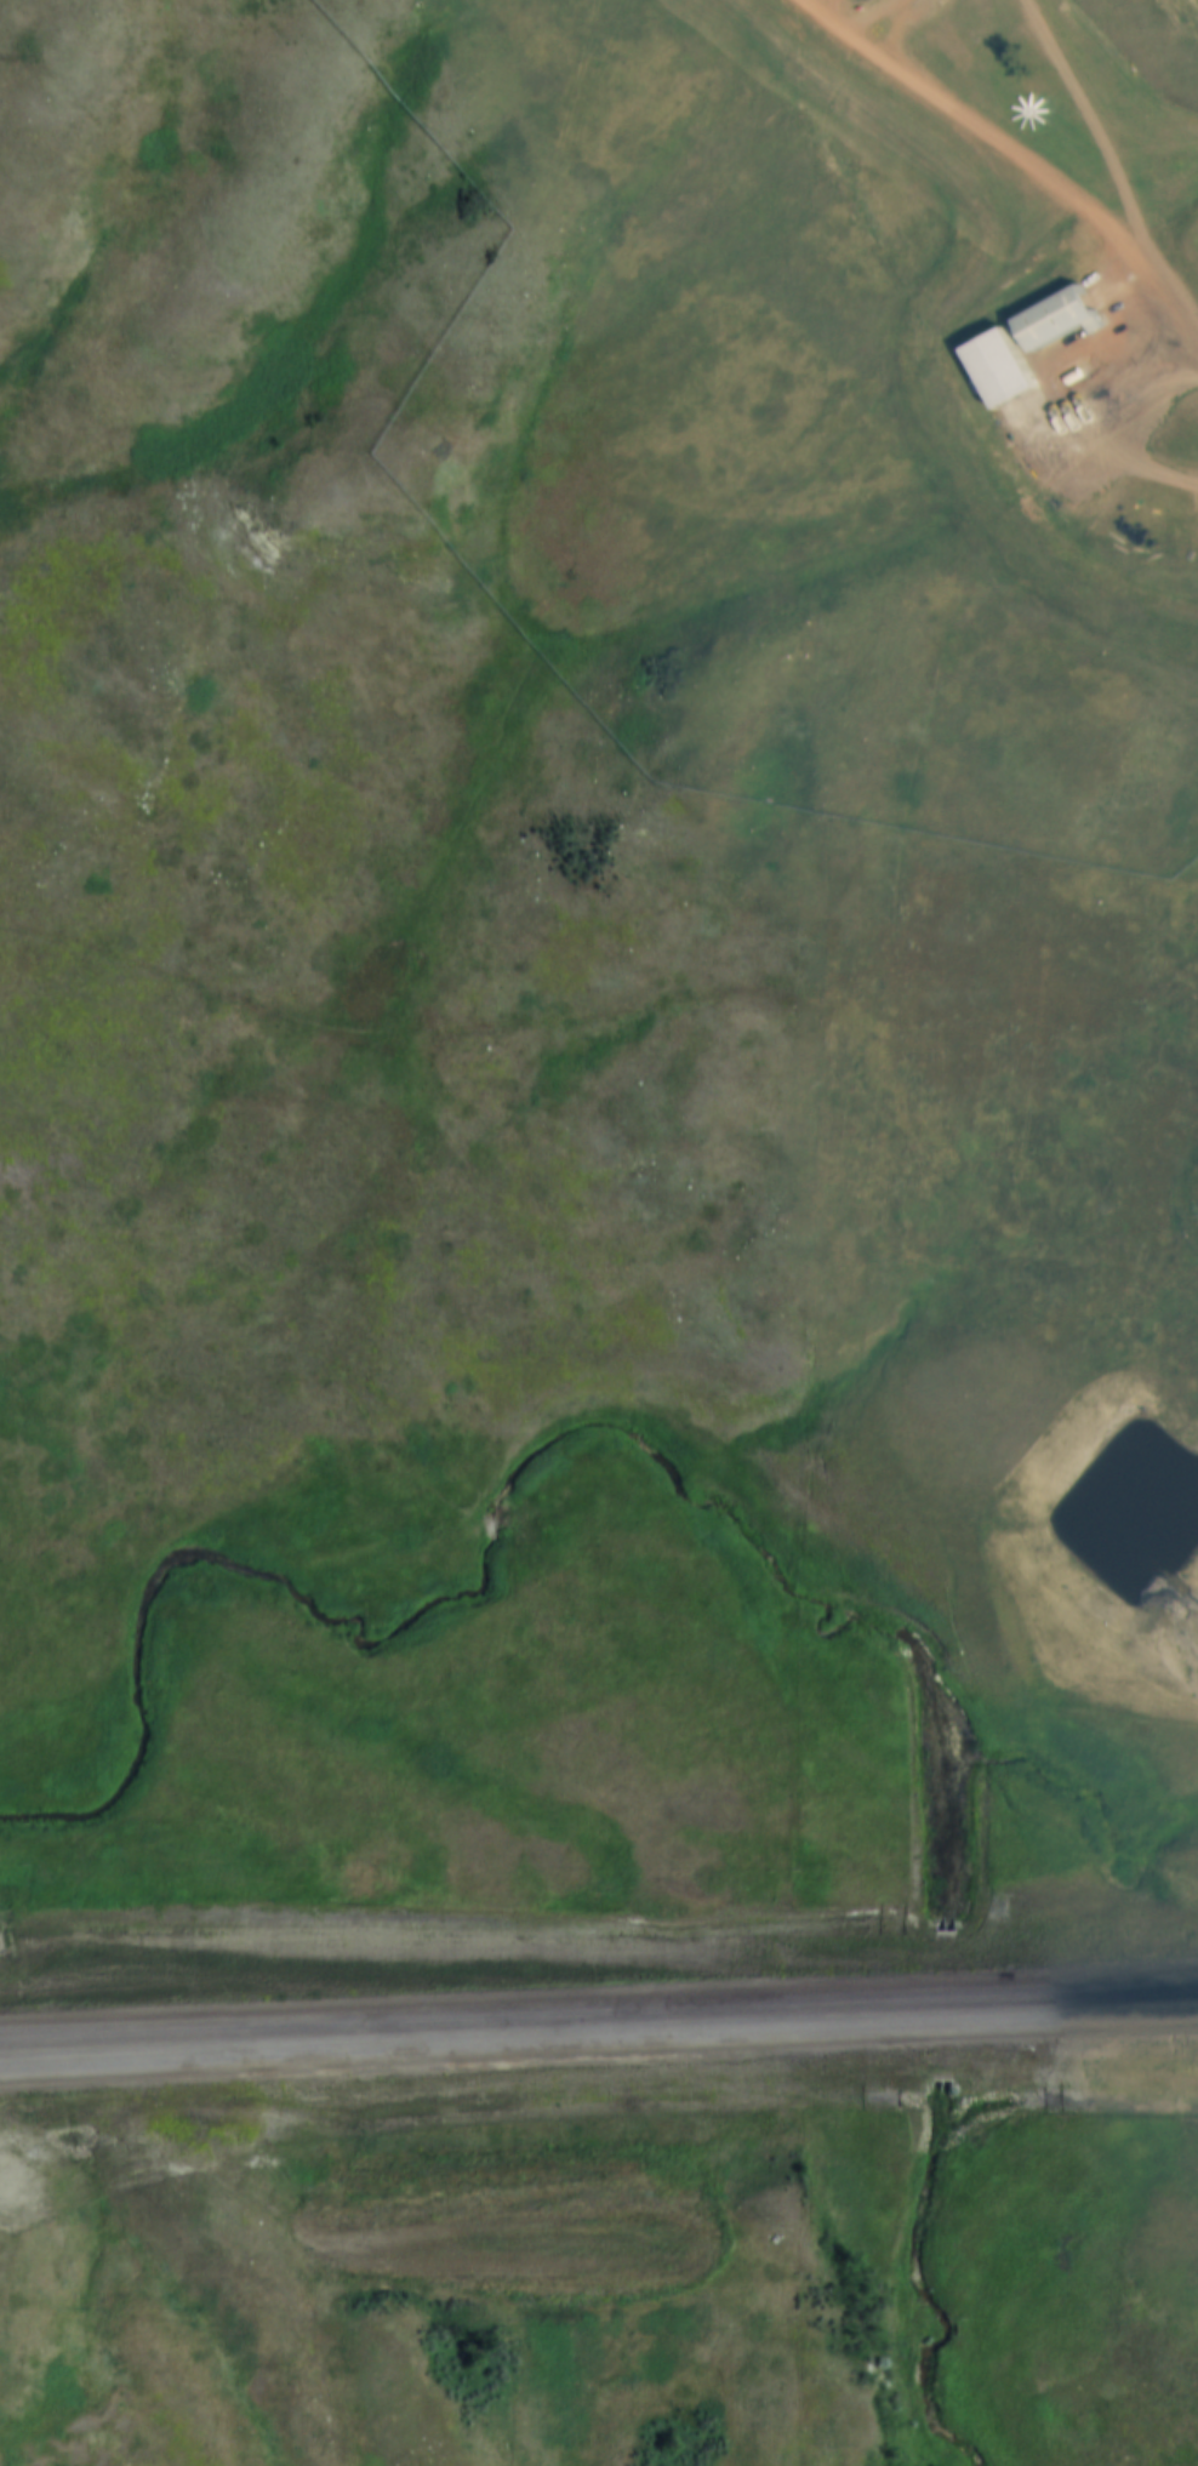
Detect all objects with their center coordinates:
road: (1021, 150)
power plant: (1019, 278)
building: (1056, 318)
building: (998, 366)
power plant: (1033, 1777)

